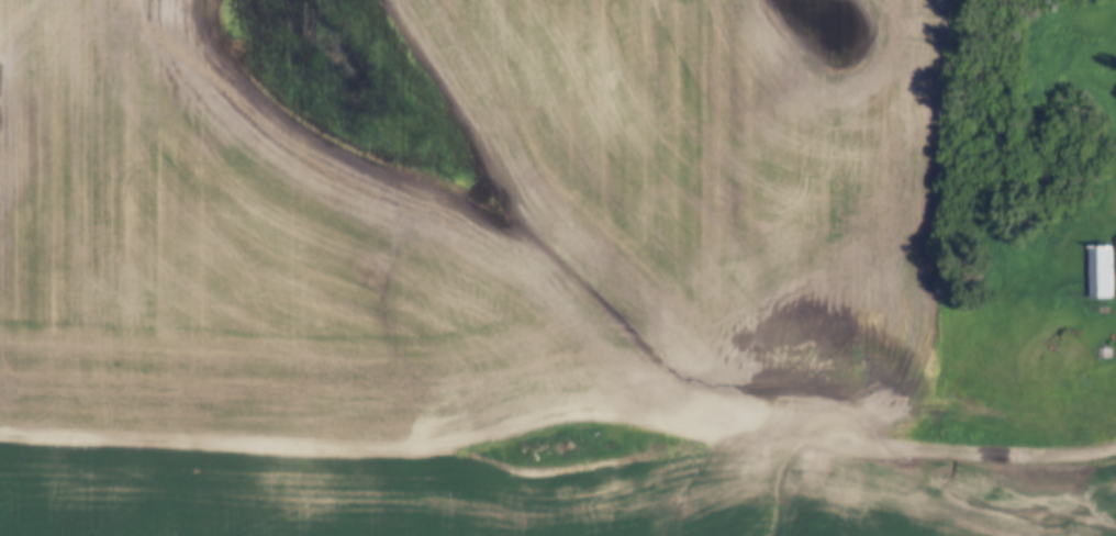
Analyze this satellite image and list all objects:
building: (1101, 270)
road: (559, 476)

